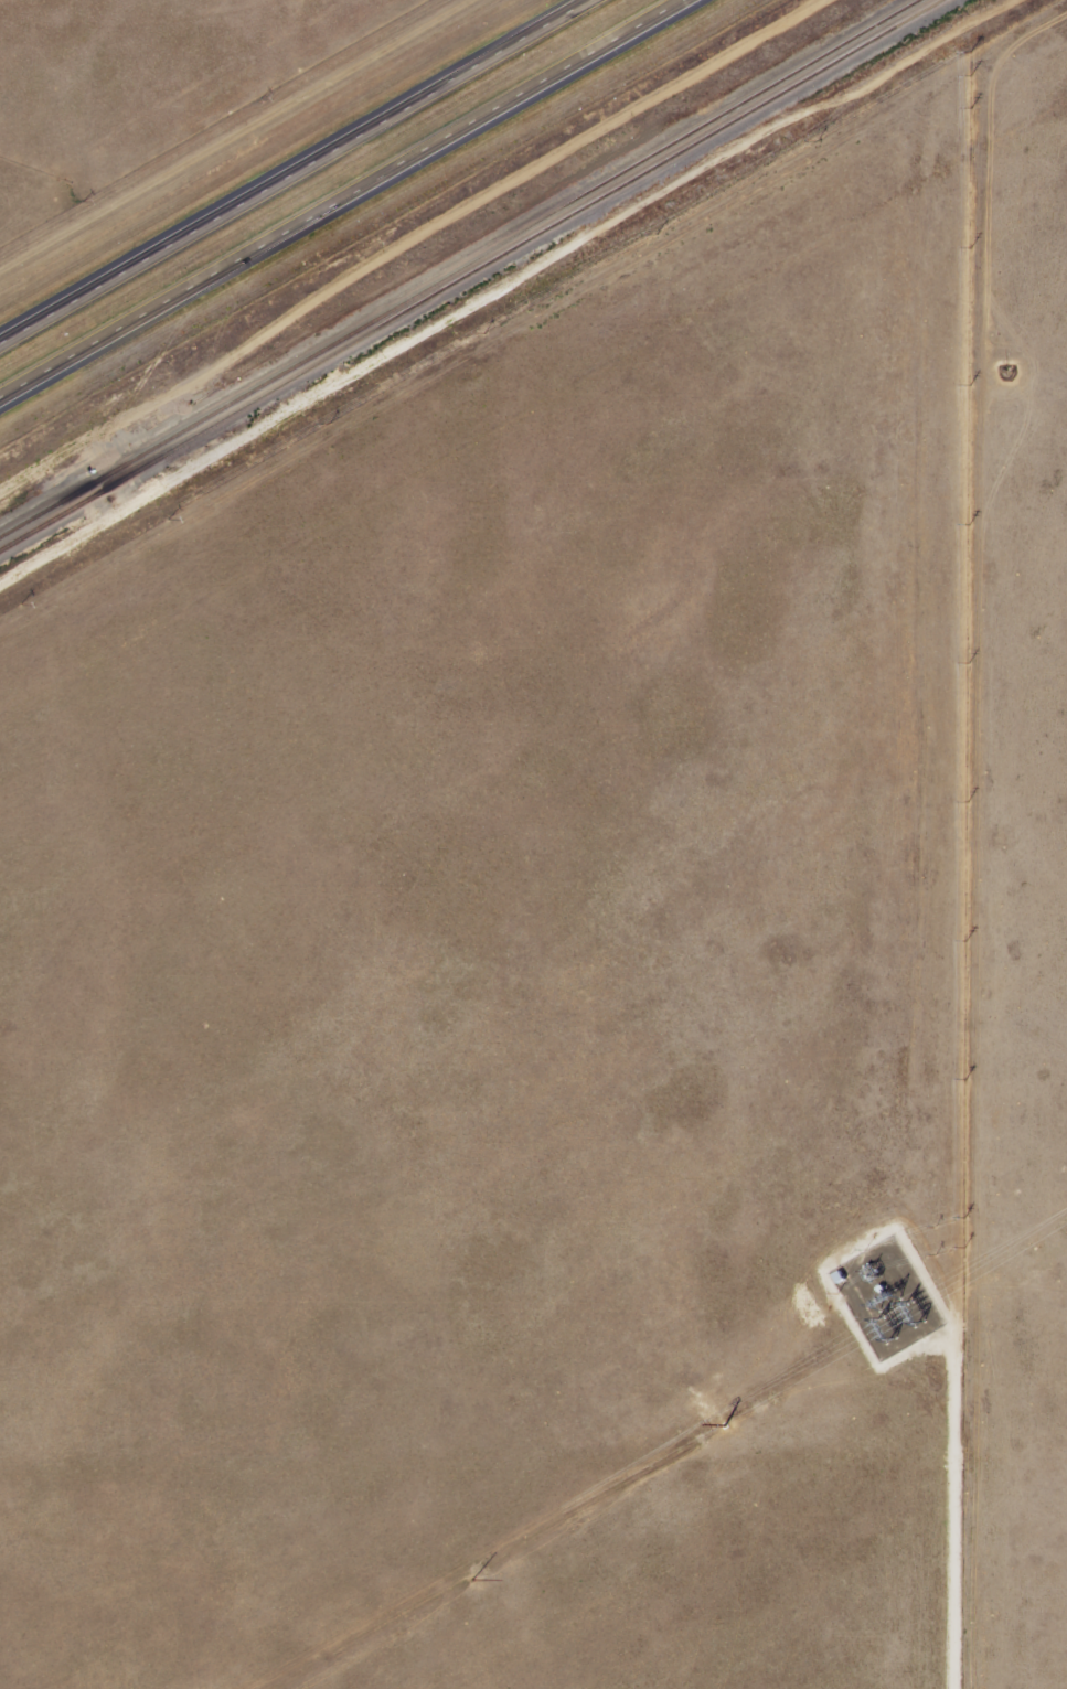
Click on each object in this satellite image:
road: (301, 173)
road: (351, 202)
railway: (462, 267)
railway: (473, 275)
power tower: (1066, 1227)
power substation: (887, 1295)
power tower: (919, 1309)
power tower: (890, 1326)
power tower: (732, 1420)
power tower: (476, 1570)

